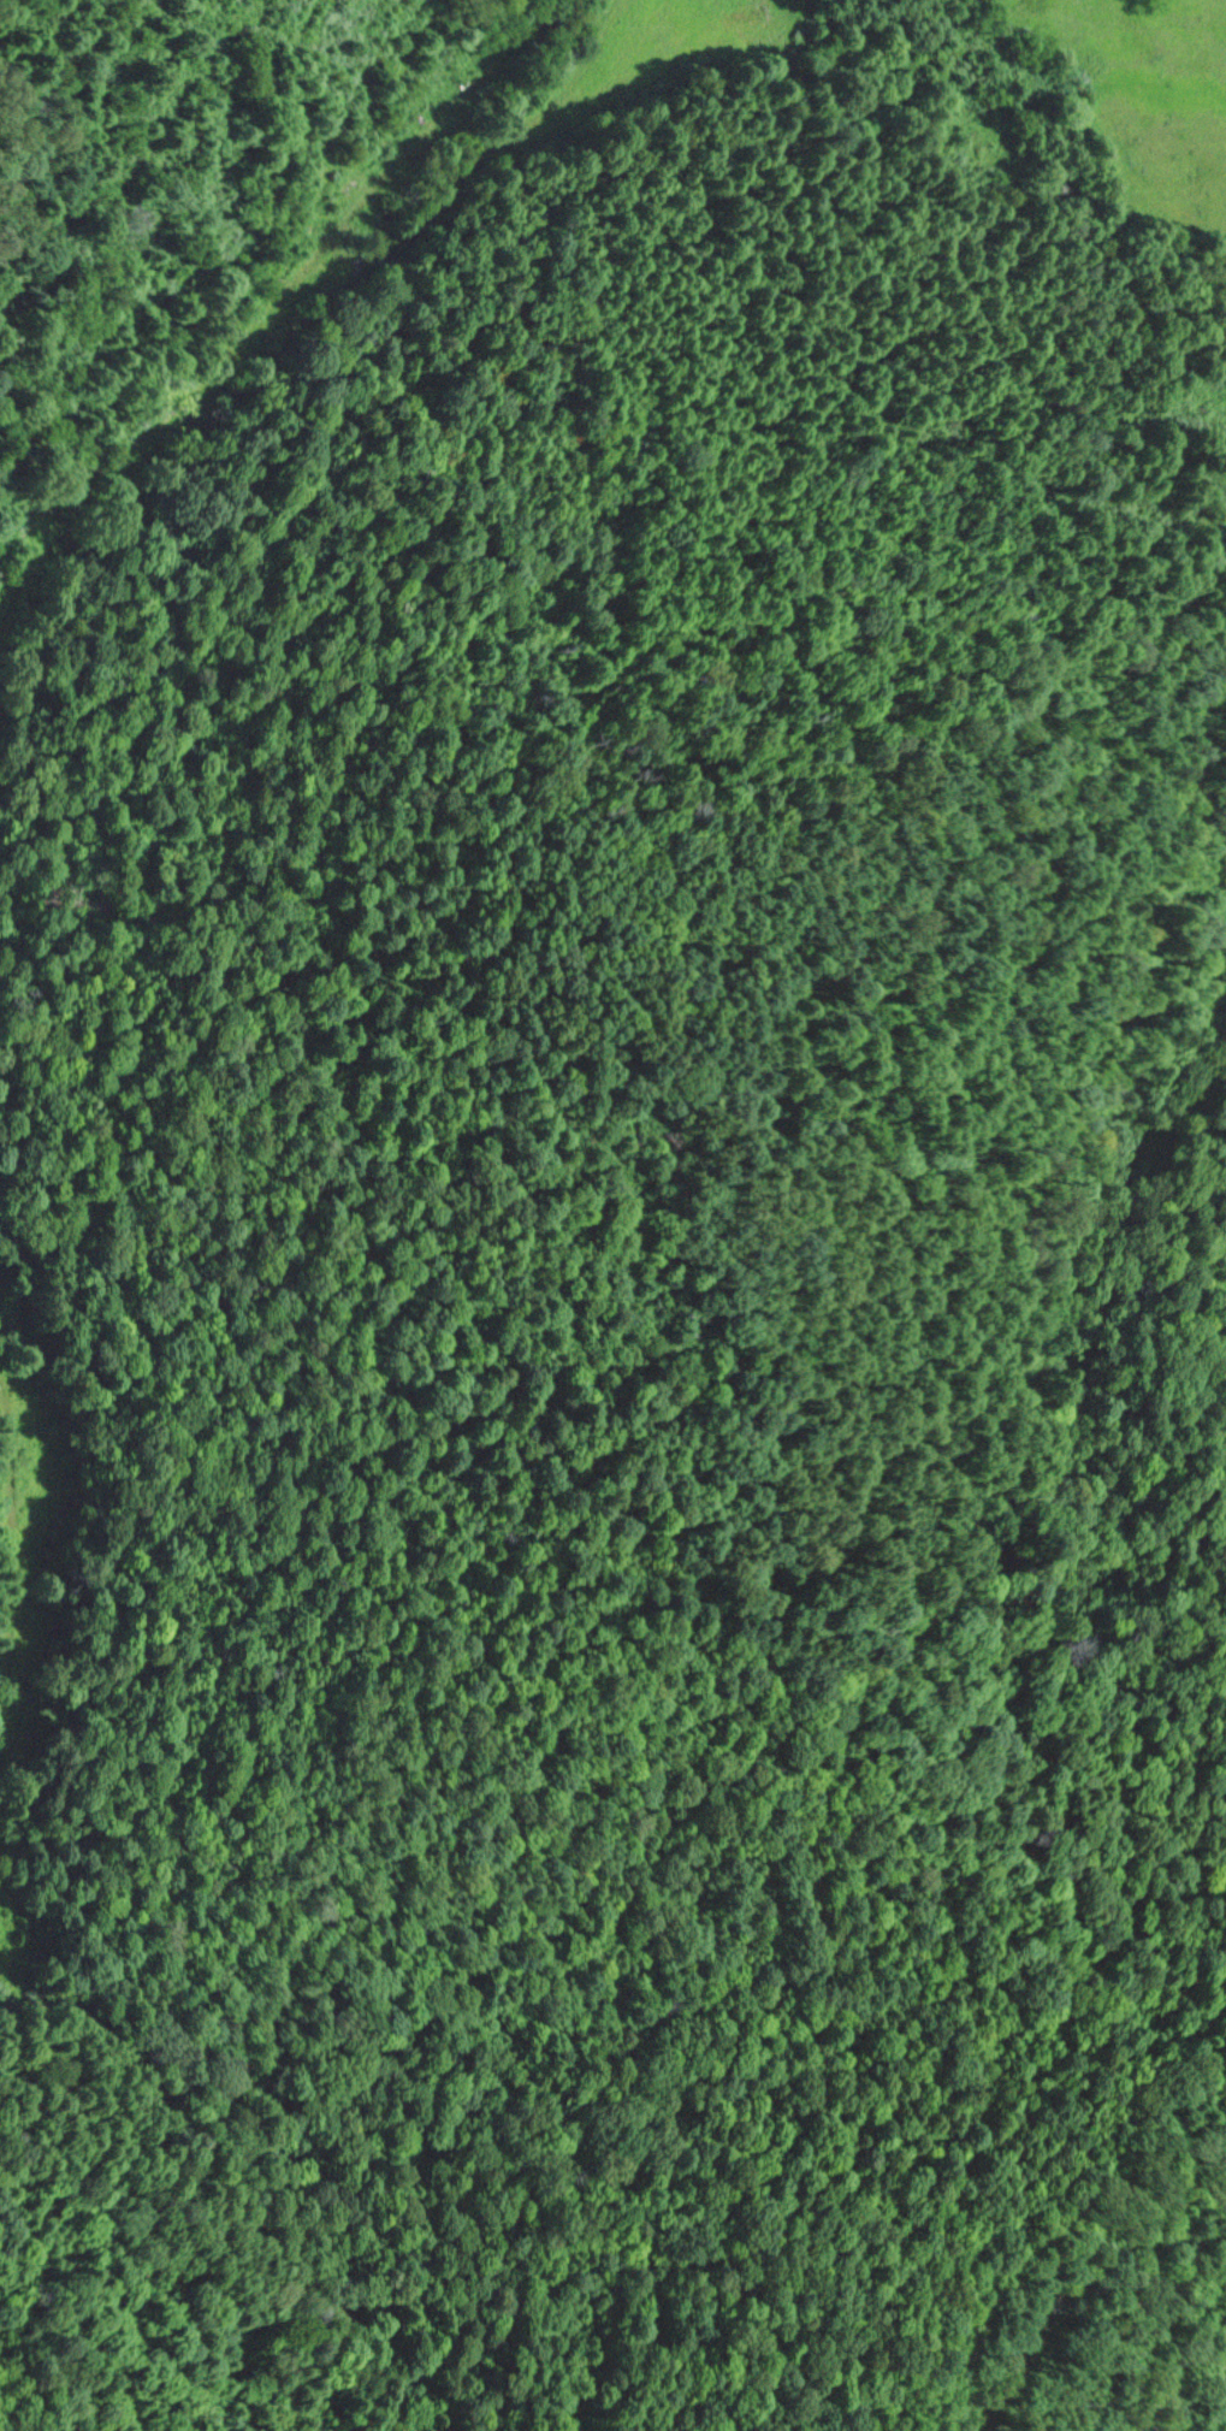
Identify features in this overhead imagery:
road: (454, 190)

